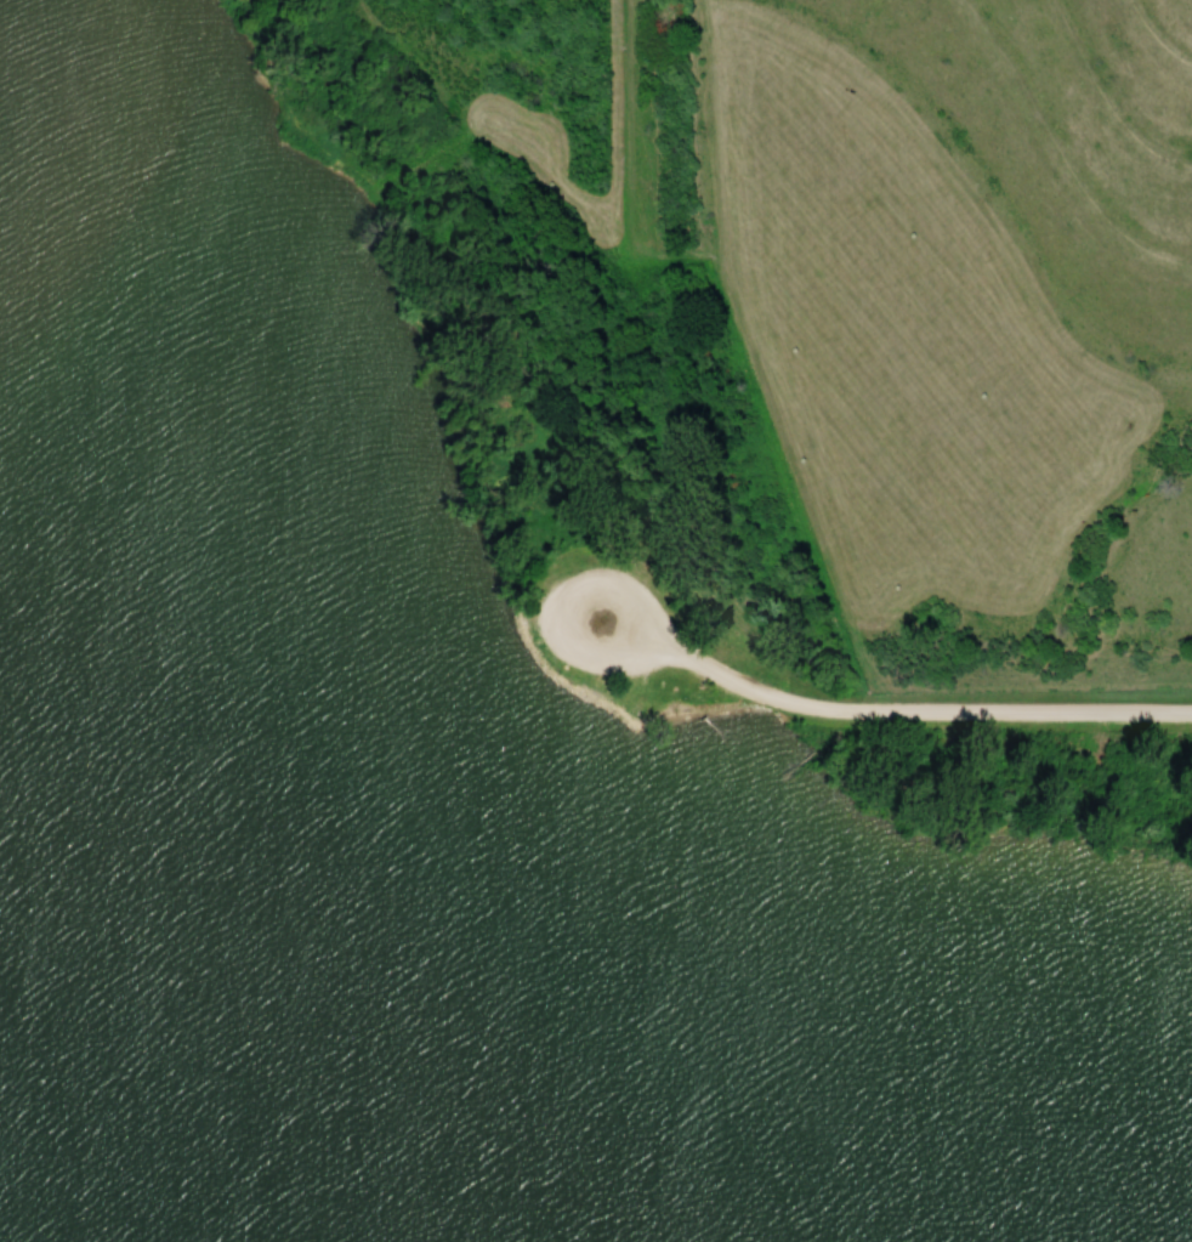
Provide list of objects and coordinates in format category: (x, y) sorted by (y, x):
road: (757, 363)
road: (889, 707)
park: (562, 898)
river: (186, 1071)

